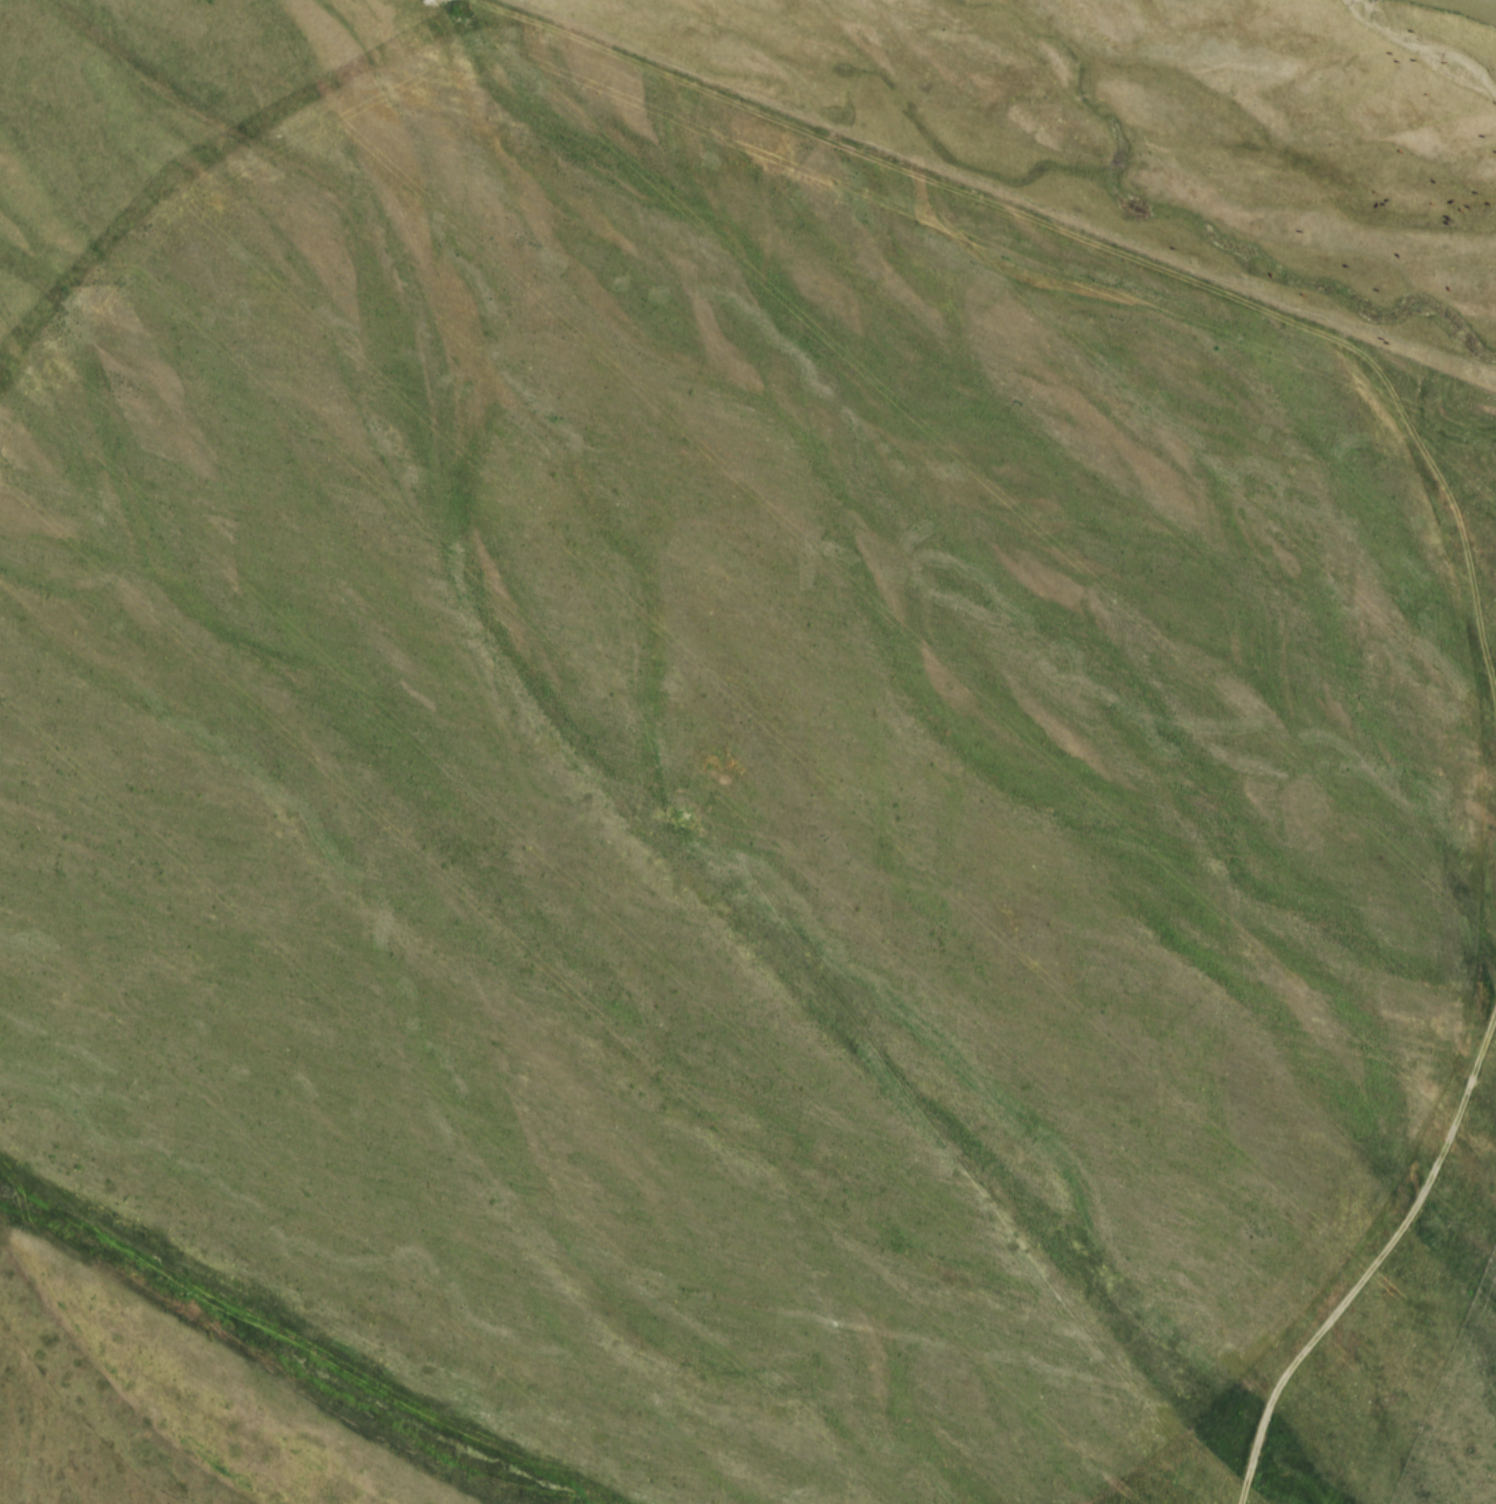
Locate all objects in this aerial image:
crop: (707, 789)

